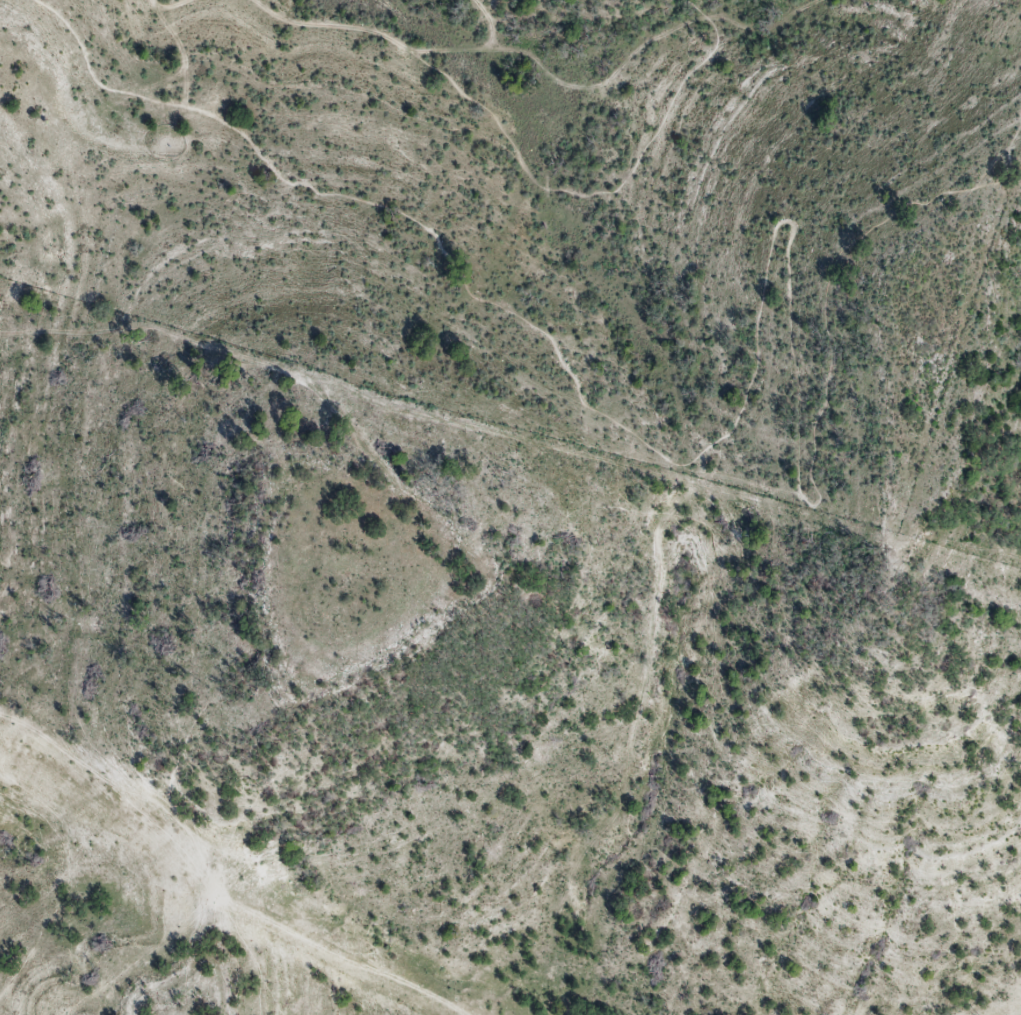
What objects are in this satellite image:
road: (172, 3)
road: (698, 9)
road: (332, 25)
road: (648, 44)
road: (479, 48)
road: (586, 196)
road: (751, 372)

